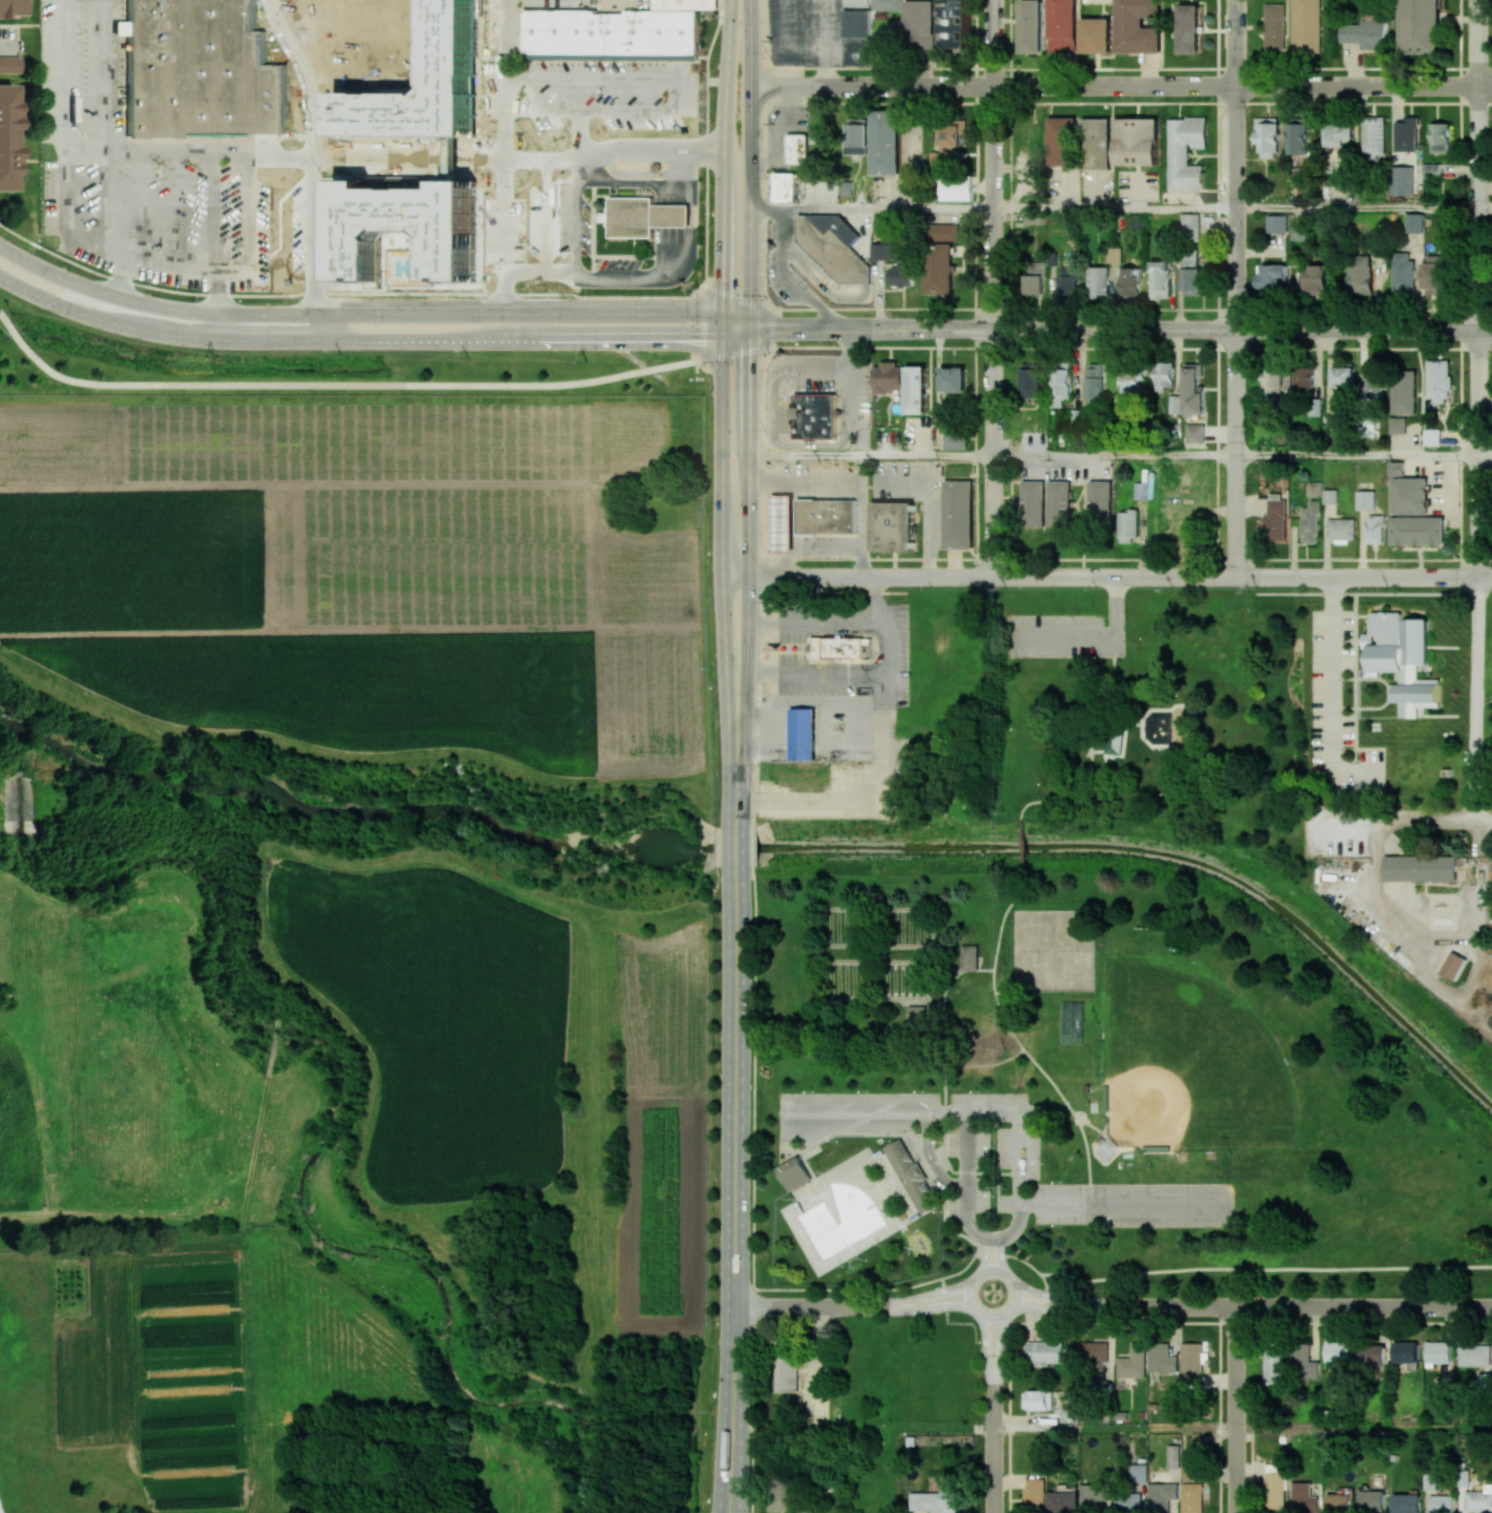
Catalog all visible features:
building: (854, 3)
building: (685, 4)
building: (884, 4)
building: (9, 9)
building: (918, 22)
building: (954, 23)
building: (1030, 26)
building: (1136, 26)
building: (1275, 26)
building: (1306, 26)
building: (1420, 26)
building: (118, 27)
building: (1061, 27)
building: (1189, 30)
building: (609, 34)
building: (1366, 34)
building: (1095, 35)
building: (855, 37)
road: (8, 46)
road: (1217, 51)
road: (548, 61)
building: (9, 64)
road: (870, 68)
road: (1214, 68)
building: (200, 71)
road: (1121, 86)
road: (1458, 100)
road: (559, 109)
road: (106, 128)
road: (569, 128)
building: (951, 131)
building: (6, 133)
building: (1339, 134)
building: (1406, 134)
building: (853, 136)
building: (1268, 136)
building: (1374, 136)
building: (1298, 138)
building: (1440, 138)
building: (884, 140)
building: (1061, 140)
building: (1095, 140)
building: (1135, 140)
road: (304, 144)
building: (795, 148)
road: (554, 149)
building: (1185, 151)
road: (724, 157)
building: (933, 159)
road: (751, 163)
road: (993, 164)
road: (1235, 164)
road: (1479, 165)
road: (63, 166)
building: (1431, 169)
building: (1402, 181)
building: (783, 186)
building: (957, 189)
road: (974, 192)
road: (611, 193)
road: (872, 207)
road: (1113, 208)
road: (1357, 209)
road: (1485, 209)
building: (643, 215)
building: (1035, 217)
building: (1415, 223)
building: (1190, 224)
building: (1276, 224)
building: (407, 228)
road: (591, 228)
building: (943, 232)
building: (1298, 232)
building: (831, 246)
road: (961, 249)
building: (880, 251)
building: (1113, 255)
road: (621, 256)
building: (938, 267)
road: (669, 272)
building: (1403, 272)
building: (1436, 273)
building: (901, 274)
building: (1360, 275)
building: (1190, 276)
building: (1272, 276)
road: (780, 278)
building: (1033, 278)
building: (1160, 278)
building: (1064, 279)
building: (1315, 279)
building: (1096, 280)
building: (1128, 282)
road: (820, 284)
road: (899, 291)
road: (489, 294)
road: (879, 295)
road: (1354, 309)
road: (370, 314)
traffic signals: (724, 315)
traffic signals: (750, 328)
road: (1120, 329)
traffic signals: (724, 339)
road: (370, 340)
power tower: (213, 355)
building: (1162, 373)
building: (885, 376)
building: (951, 376)
building: (1304, 377)
building: (1028, 380)
building: (1129, 380)
building: (1342, 380)
building: (1438, 380)
building: (1060, 381)
building: (1091, 381)
building: (1272, 382)
building: (1373, 382)
road: (928, 383)
road: (336, 385)
building: (915, 388)
building: (1192, 389)
building: (1404, 392)
building: (1173, 404)
road: (773, 405)
road: (848, 411)
building: (812, 415)
building: (1398, 425)
building: (1193, 432)
road: (973, 436)
building: (1432, 437)
road: (969, 438)
building: (953, 441)
building: (1021, 442)
road: (993, 452)
road: (1235, 453)
road: (871, 456)
road: (1114, 456)
road: (1357, 456)
road: (1485, 457)
building: (1397, 469)
building: (1315, 489)
building: (1141, 491)
road: (858, 492)
road: (723, 495)
building: (1410, 495)
building: (1330, 496)
building: (1365, 500)
road: (749, 501)
building: (1033, 504)
building: (1059, 505)
building: (1101, 505)
road: (929, 507)
building: (957, 514)
building: (825, 516)
building: (1276, 518)
building: (1310, 522)
building: (892, 524)
building: (781, 525)
building: (1128, 525)
building: (1341, 529)
building: (1374, 529)
building: (1419, 530)
road: (849, 559)
crop: (357, 570)
road: (1479, 575)
road: (1101, 577)
road: (1485, 577)
road: (1116, 606)
road: (804, 622)
parking lot: (1054, 635)
road: (1062, 635)
building: (838, 646)
building: (1402, 659)
road: (867, 672)
road: (1334, 690)
road: (1485, 700)
road: (756, 717)
road: (1111, 722)
road: (1129, 724)
road: (763, 725)
road: (803, 726)
road: (850, 728)
building: (803, 733)
building: (1114, 742)
road: (1090, 745)
road: (737, 749)
road: (1099, 757)
building: (795, 772)
road: (870, 794)
road: (1436, 821)
road: (736, 847)
river: (780, 847)
road: (1024, 847)
road: (751, 851)
building: (1421, 868)
park: (880, 926)
park: (1053, 949)
building: (969, 957)
building: (1453, 966)
park: (879, 978)
crop: (377, 990)
park: (1101, 1014)
road: (937, 1020)
park: (1073, 1022)
road: (1019, 1044)
road: (850, 1055)
road: (943, 1061)
park: (1187, 1063)
crop: (661, 1106)
road: (948, 1111)
road: (1105, 1136)
road: (967, 1147)
road: (734, 1150)
road: (931, 1158)
parking lot: (1005, 1158)
building: (795, 1172)
building: (913, 1175)
road: (1124, 1204)
road: (966, 1218)
water park: (853, 1220)
road: (1014, 1228)
road: (992, 1252)
road: (1243, 1269)
road: (797, 1289)
road: (851, 1306)
road: (1254, 1306)
road: (992, 1316)
building: (1339, 1352)
building: (1406, 1352)
building: (1439, 1352)
building: (1045, 1353)
building: (1372, 1355)
building: (1474, 1355)
building: (1095, 1356)
building: (1161, 1358)
building: (1133, 1361)
building: (1303, 1361)
building: (1192, 1362)
building: (1274, 1367)
building: (787, 1373)
building: (1040, 1400)
road: (1237, 1410)
road: (991, 1414)
building: (1069, 1414)
crop: (652, 1426)
road: (1114, 1428)
road: (1364, 1428)
building: (1173, 1456)
building: (1274, 1467)
road: (725, 1471)
road: (736, 1471)
building: (1139, 1473)
building: (1275, 1490)
building: (1033, 1494)
building: (1161, 1496)
building: (1192, 1498)
building: (1304, 1498)
building: (1479, 1499)
building: (938, 1501)
building: (1372, 1501)
building: (1062, 1502)
building: (1128, 1502)
building: (1339, 1503)
building: (1406, 1503)
building: (1442, 1503)
road: (0, 1510)

